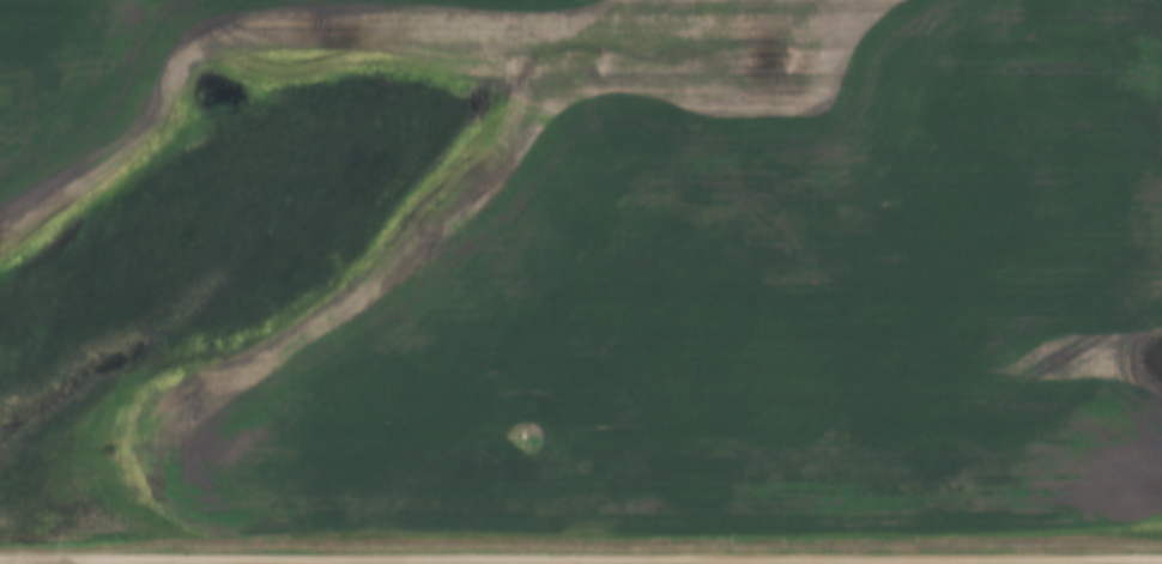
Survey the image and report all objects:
road: (156, 563)
road: (581, 563)
road: (1100, 563)

